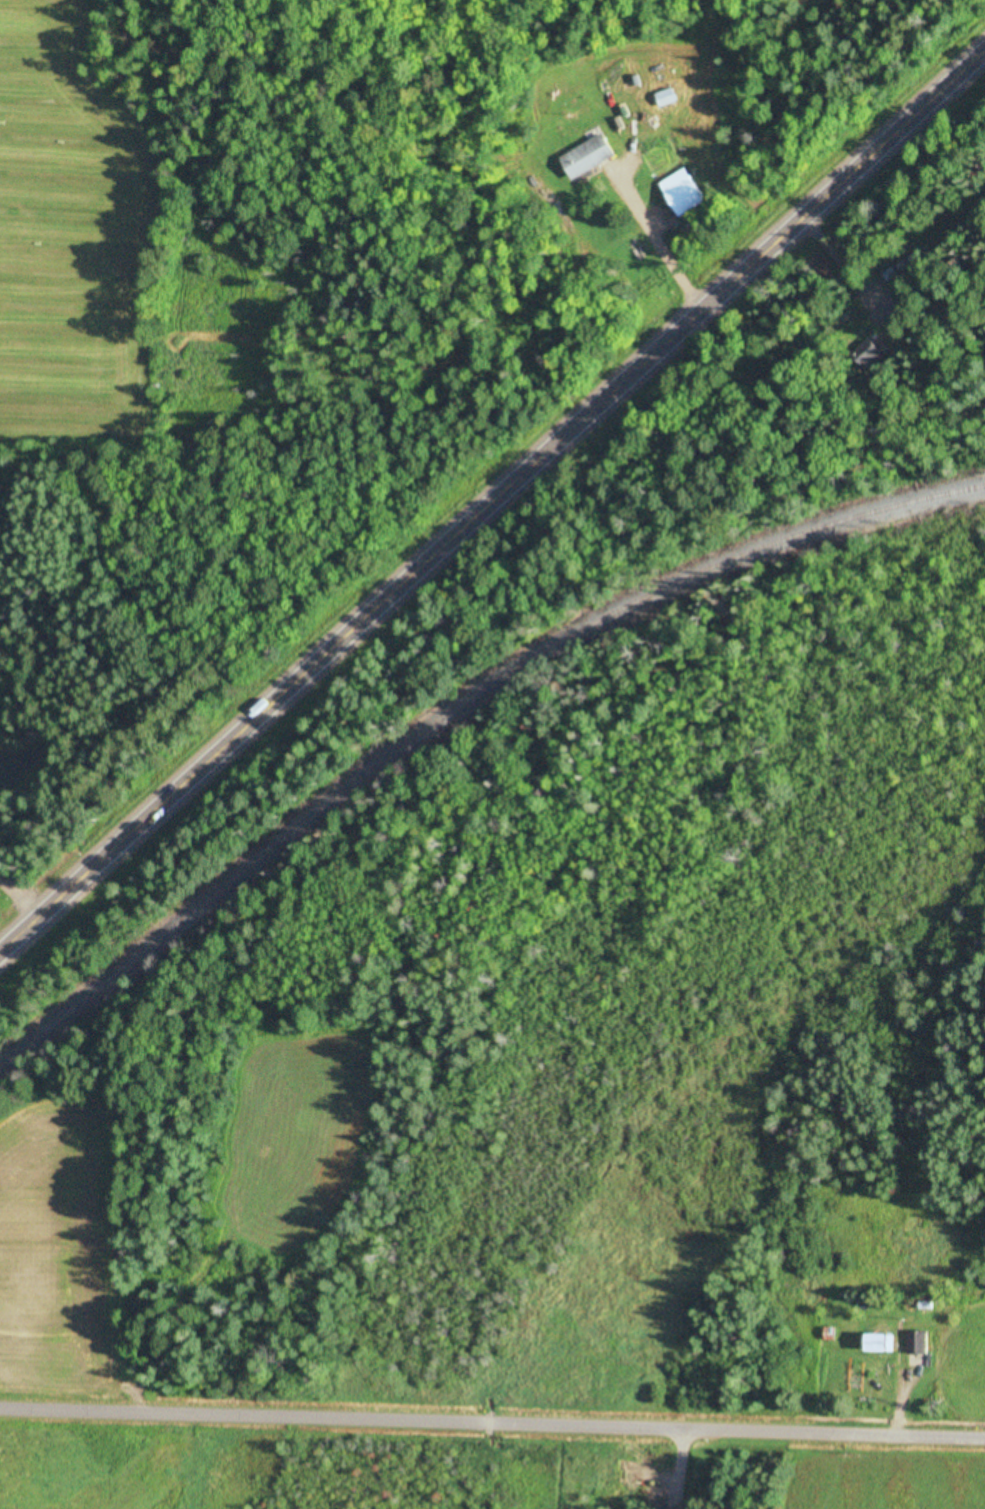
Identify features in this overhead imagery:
building: (668, 99)
building: (591, 158)
building: (872, 355)
road: (492, 503)
railway: (454, 710)
building: (921, 1343)
building: (882, 1344)
road: (492, 1408)

